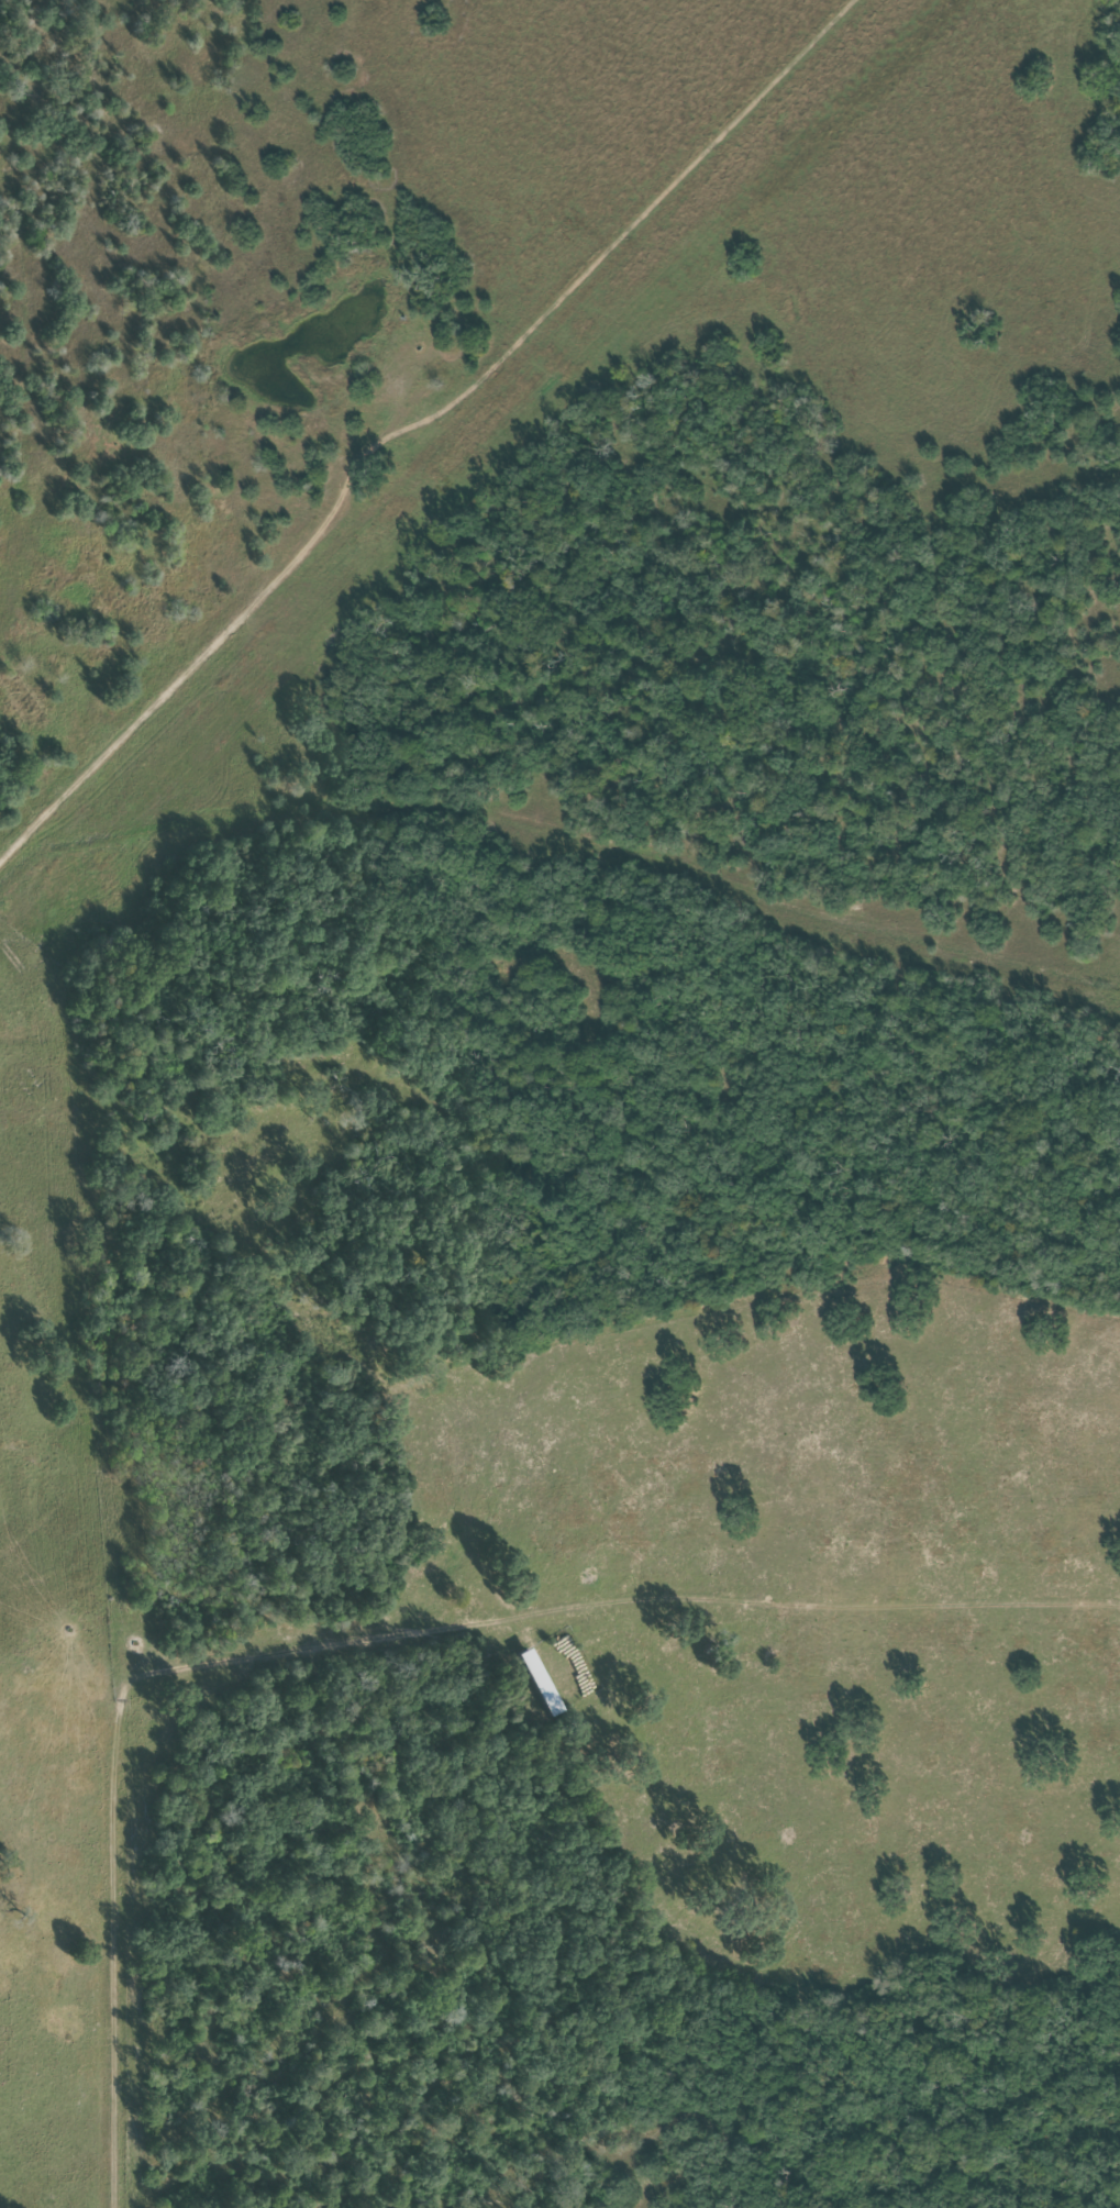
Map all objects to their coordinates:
building: (534, 1683)

